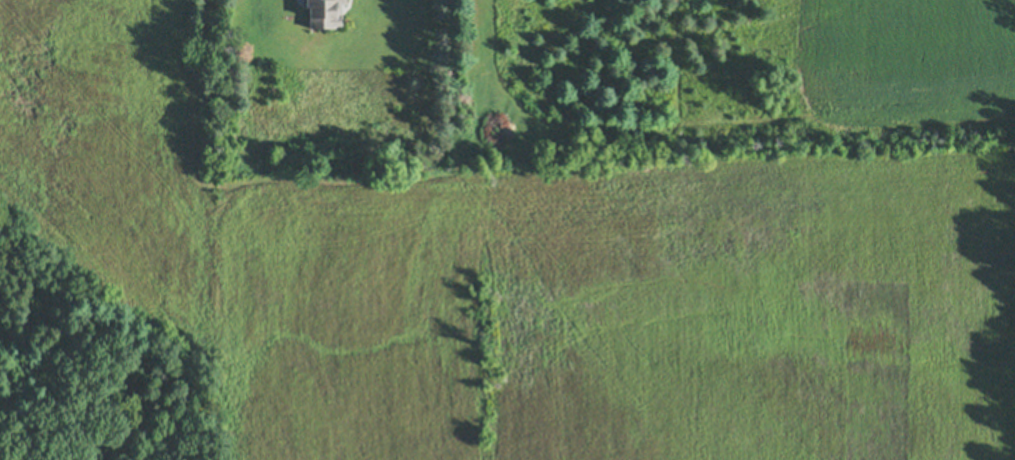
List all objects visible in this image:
building: (325, 13)

